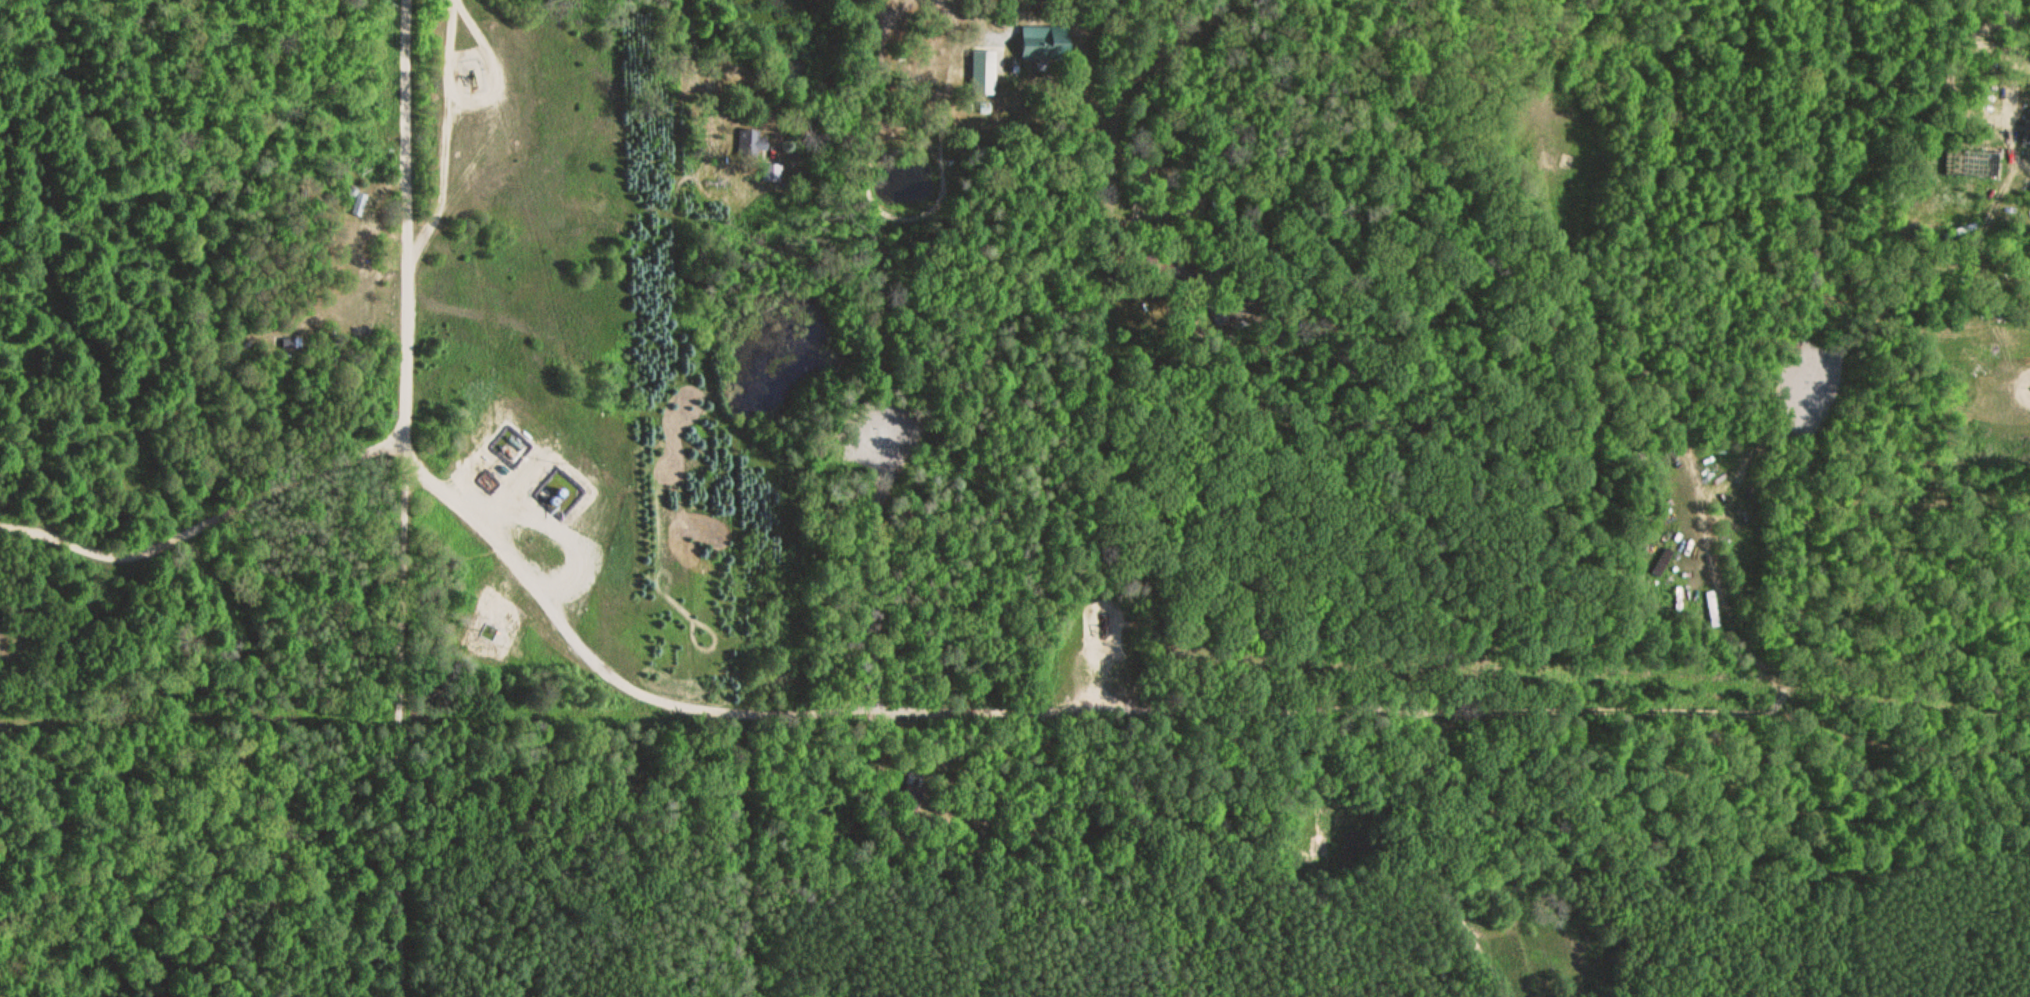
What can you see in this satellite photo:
building: (1041, 45)
petroleum well: (470, 80)
building: (2028, 128)
building: (747, 145)
building: (354, 203)
road: (1631, 364)
road: (406, 498)
road: (205, 520)
building: (1708, 610)
petroleum well: (1096, 624)
road: (1164, 711)
building: (909, 791)
road: (1408, 862)

